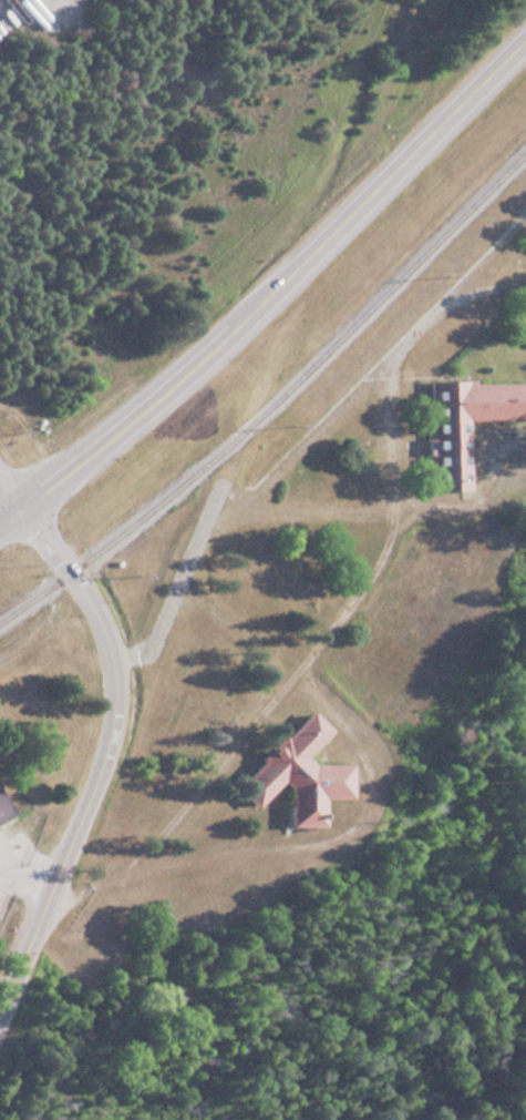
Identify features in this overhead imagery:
road: (264, 277)
railway: (276, 399)
building: (462, 424)
road: (11, 491)
road: (102, 751)
building: (292, 774)
building: (1, 813)
road: (24, 878)

